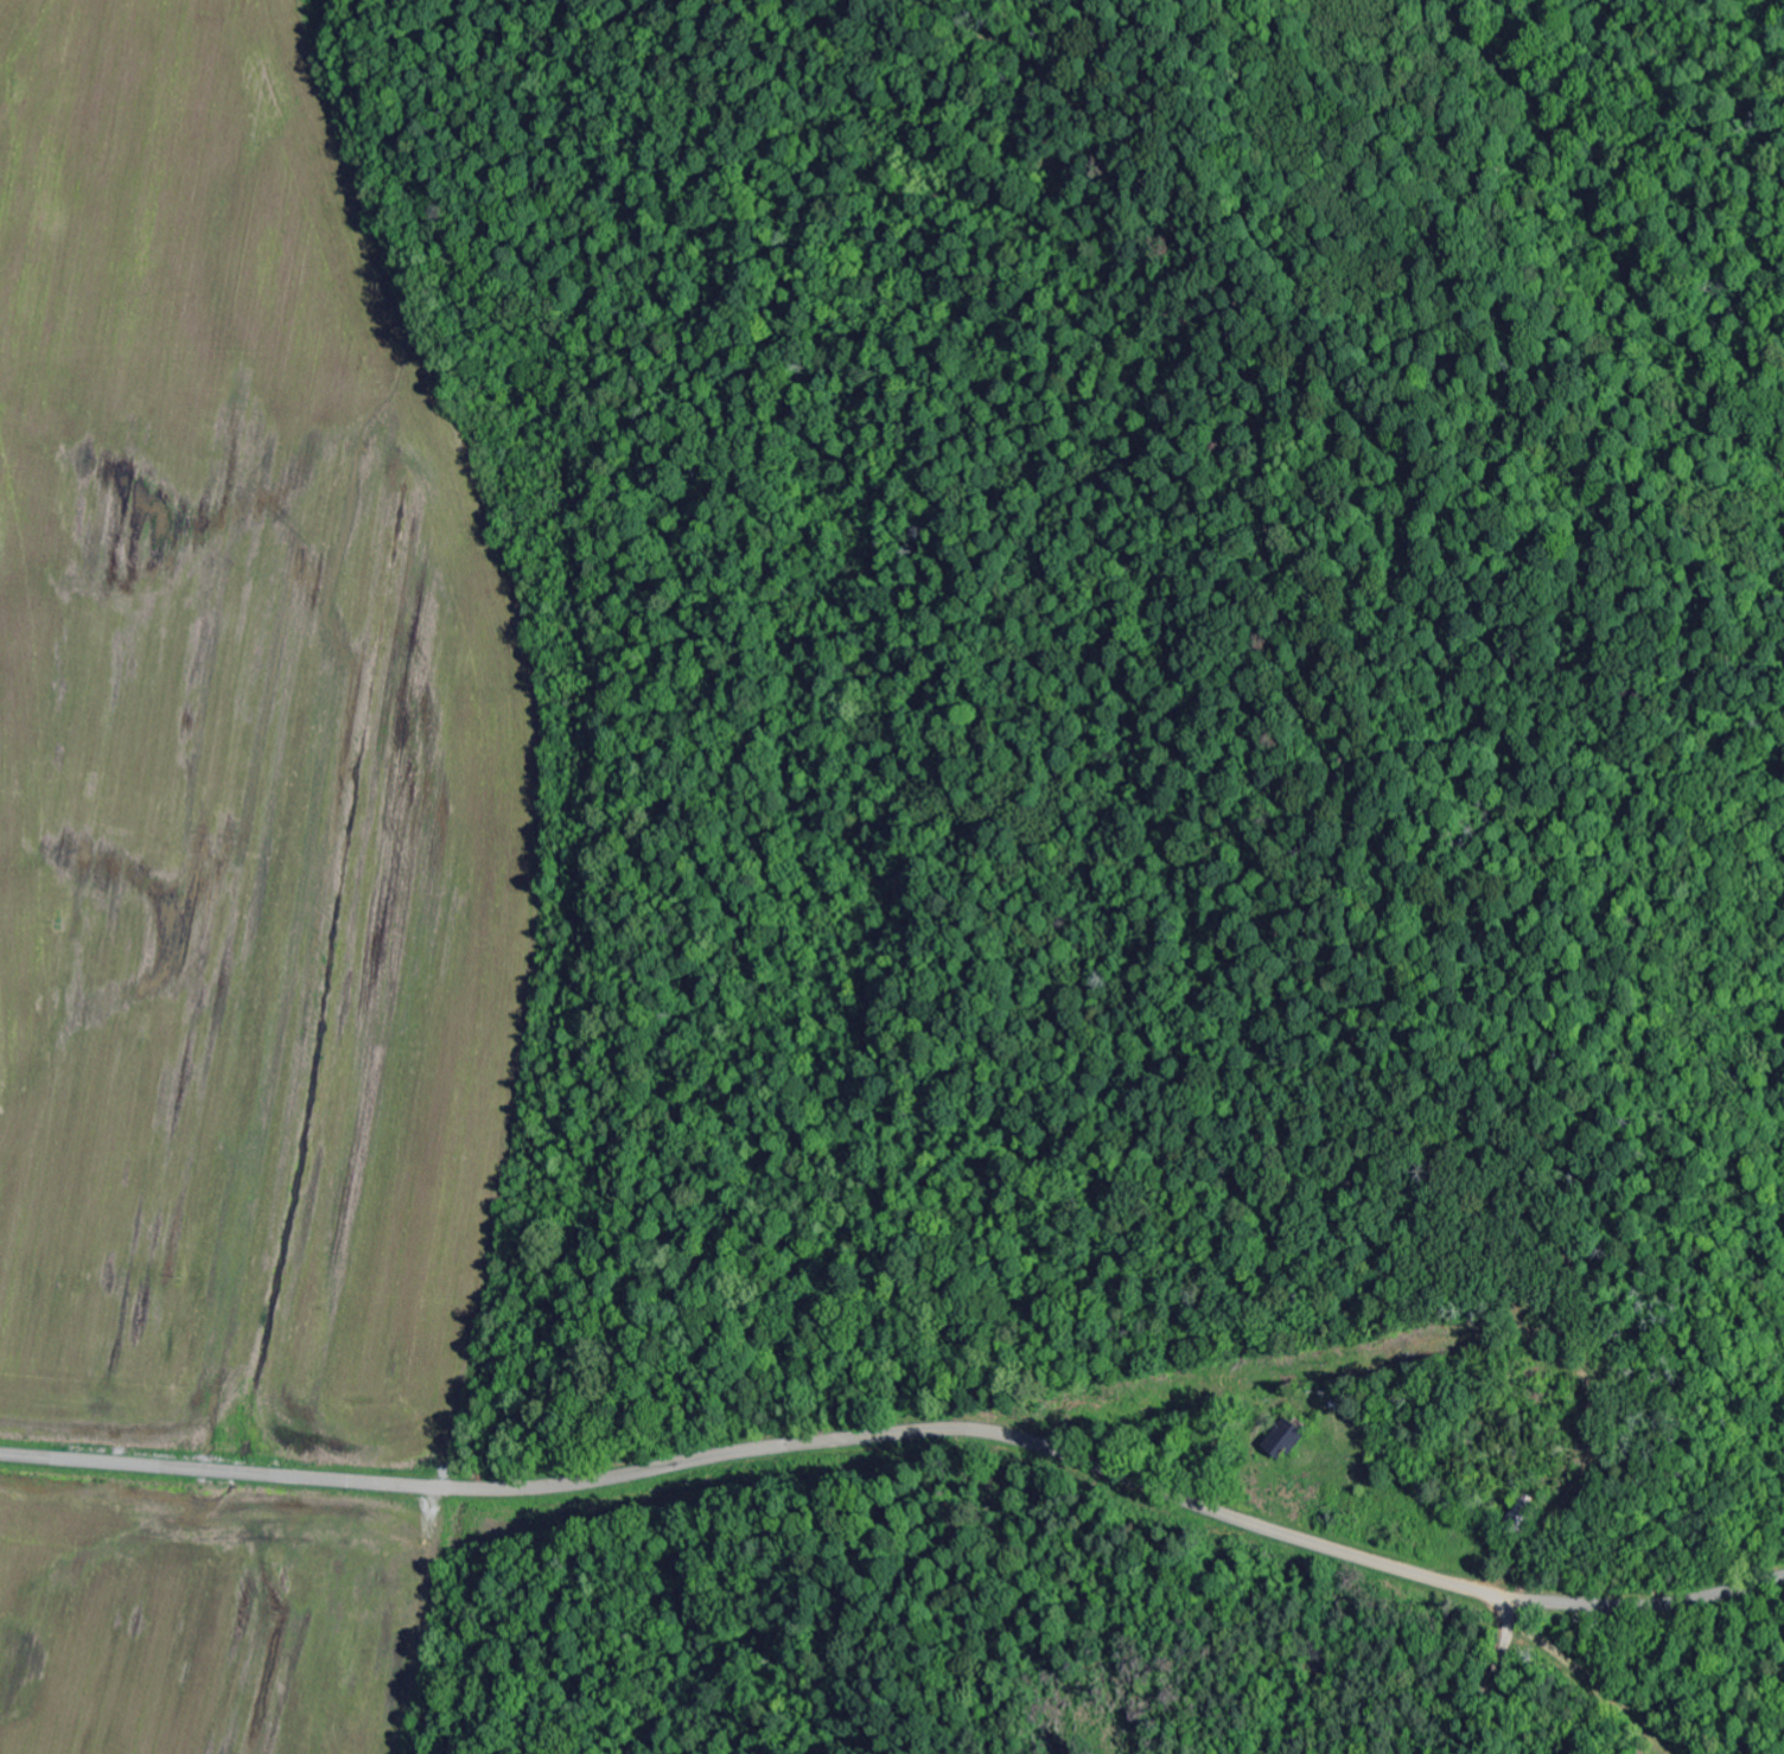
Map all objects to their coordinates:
road: (903, 1435)
building: (1287, 1437)

